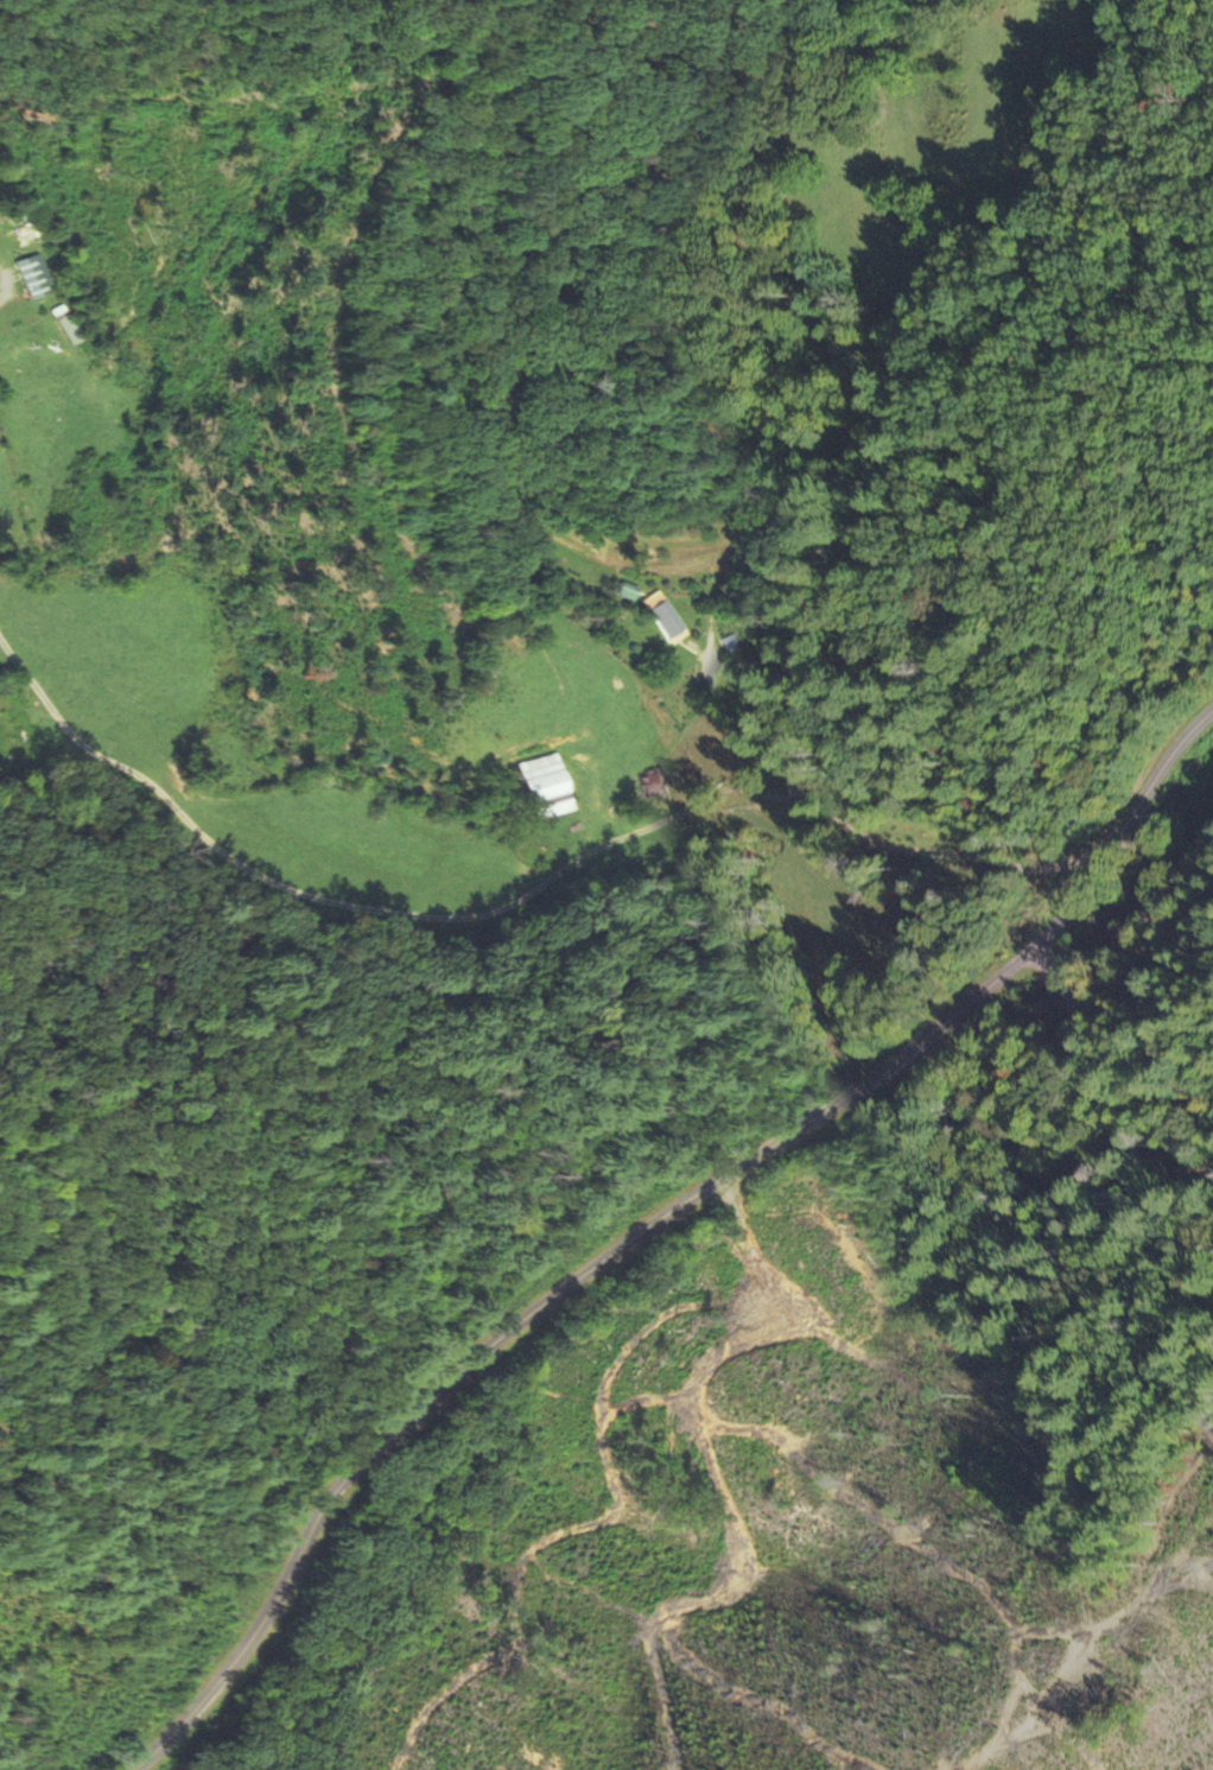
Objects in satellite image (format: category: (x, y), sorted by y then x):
road: (0, 275)
building: (26, 275)
building: (624, 591)
building: (661, 622)
road: (733, 725)
road: (1155, 775)
building: (542, 787)
road: (519, 892)
road: (1071, 902)
road: (991, 905)
road: (1084, 1073)
road: (531, 1312)

